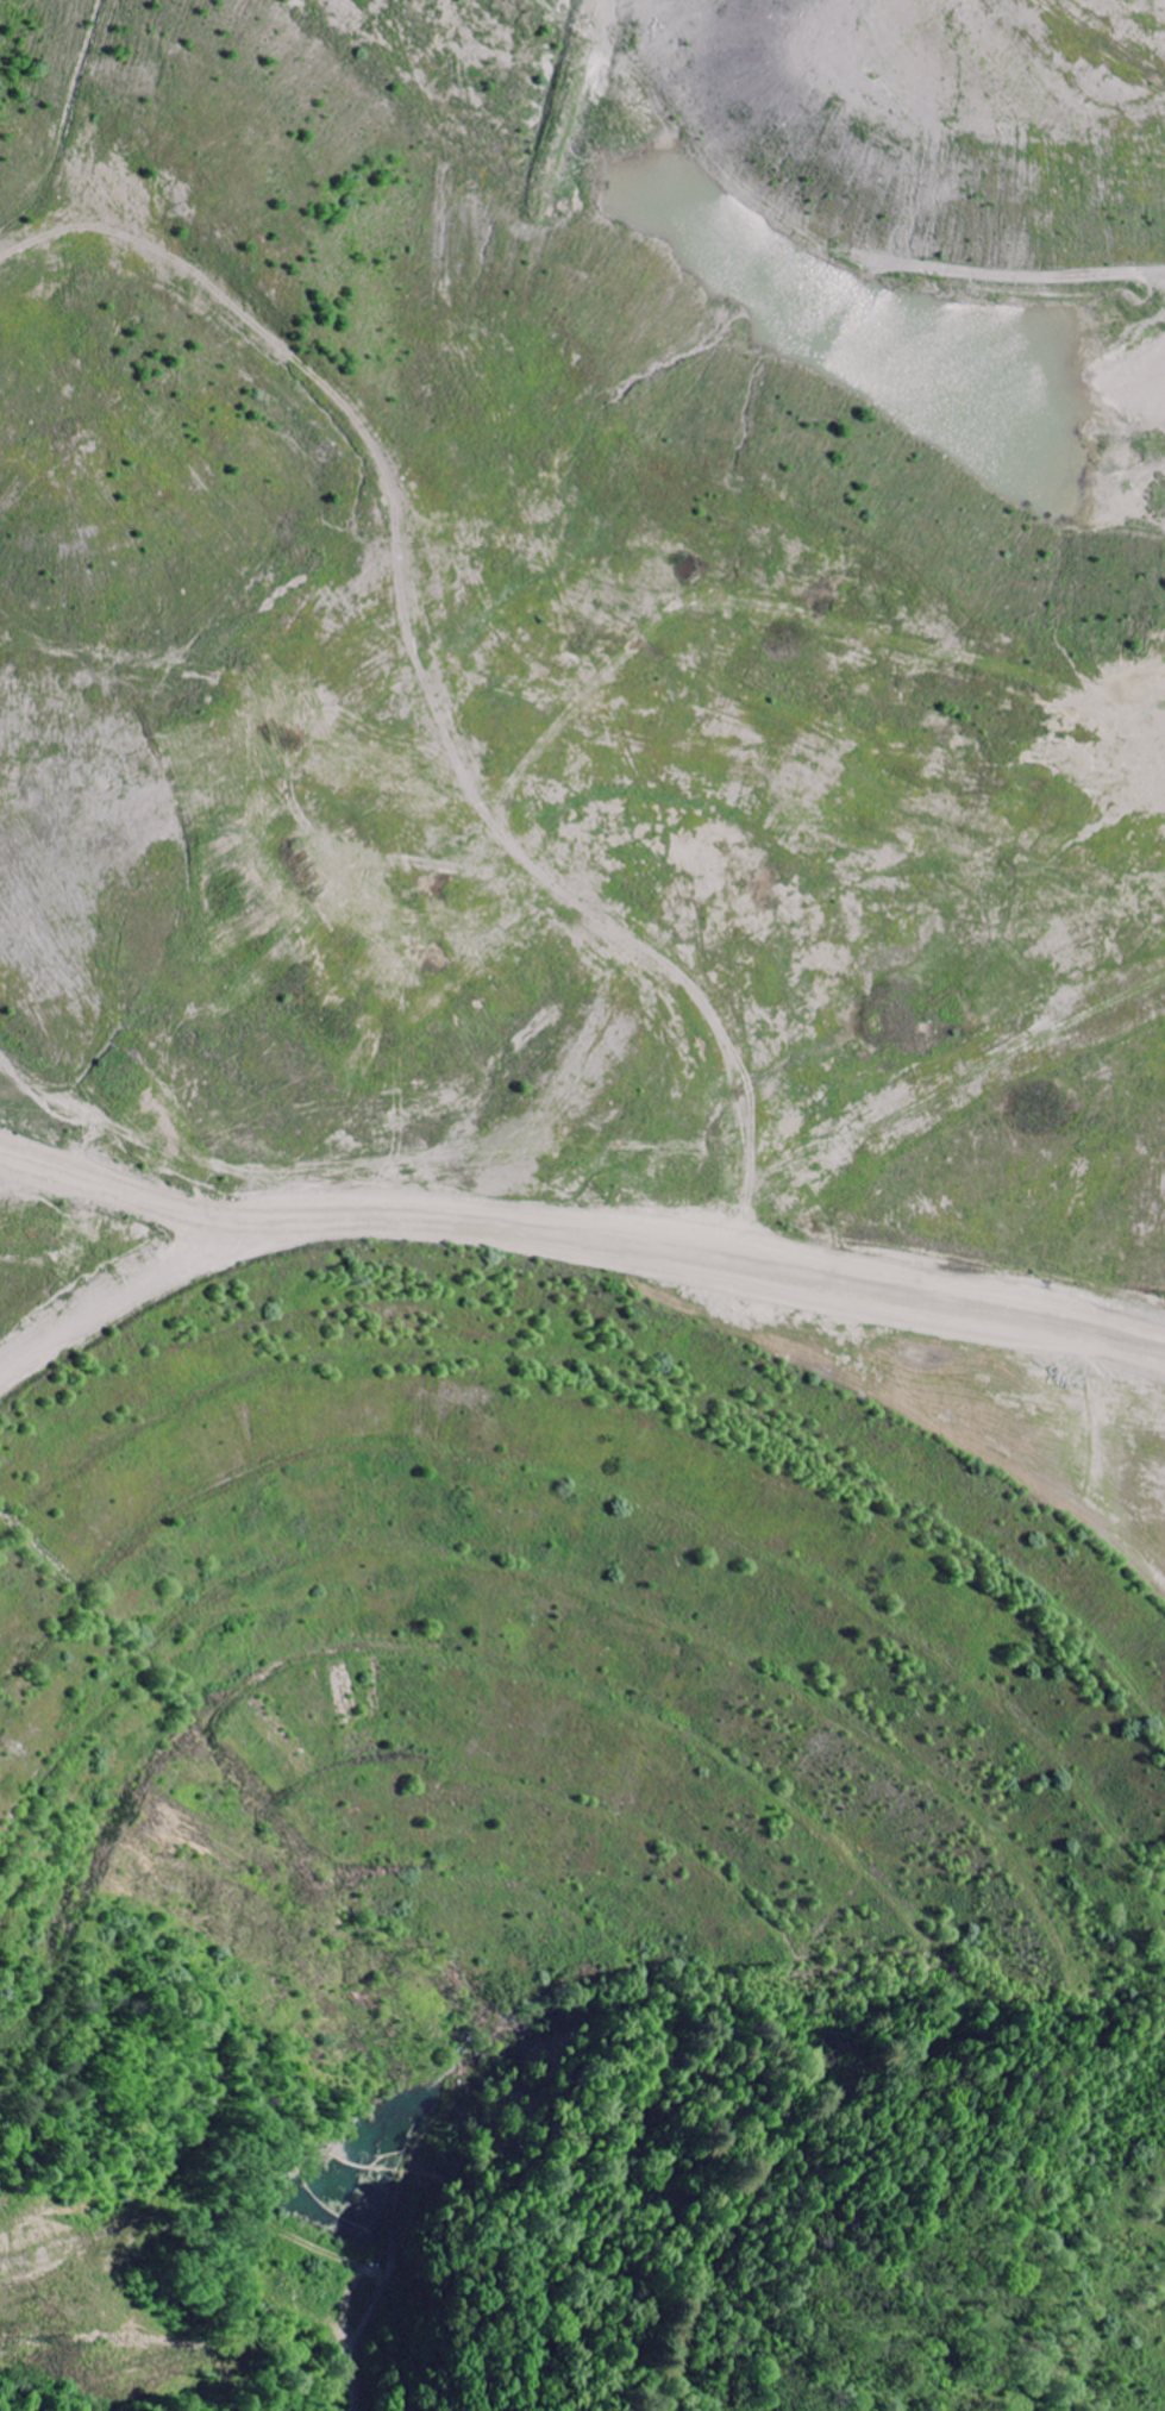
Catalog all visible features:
quarry: (582, 1205)

